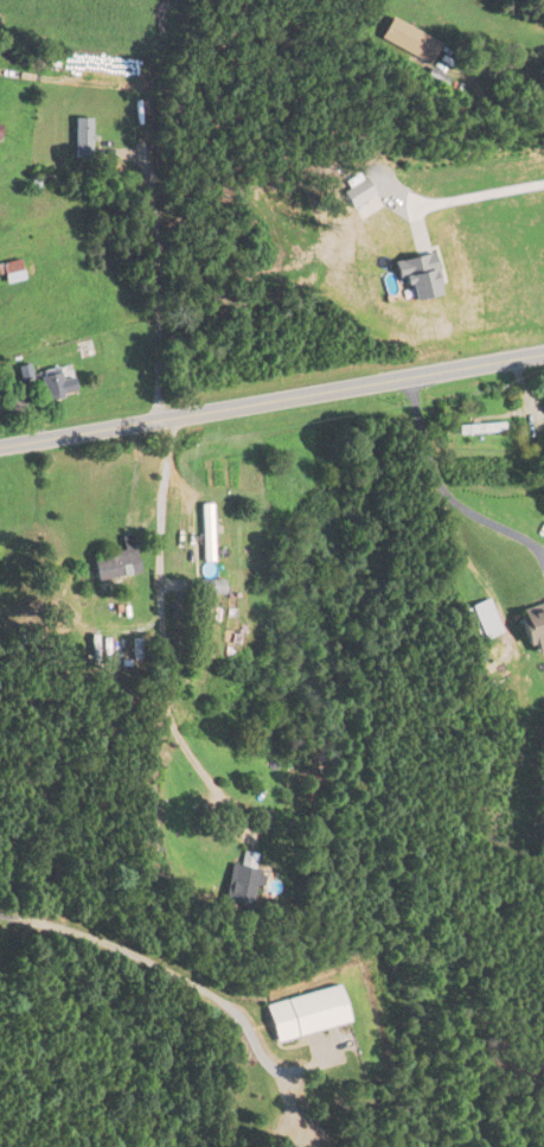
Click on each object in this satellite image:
building: (408, 40)
road: (500, 77)
building: (83, 135)
road: (471, 197)
road: (151, 266)
building: (9, 272)
building: (108, 348)
building: (52, 384)
road: (271, 400)
building: (480, 431)
road: (443, 492)
building: (116, 562)
building: (211, 587)
building: (480, 620)
building: (213, 623)
building: (531, 626)
road: (162, 648)
building: (238, 881)
road: (186, 981)
building: (302, 1014)

